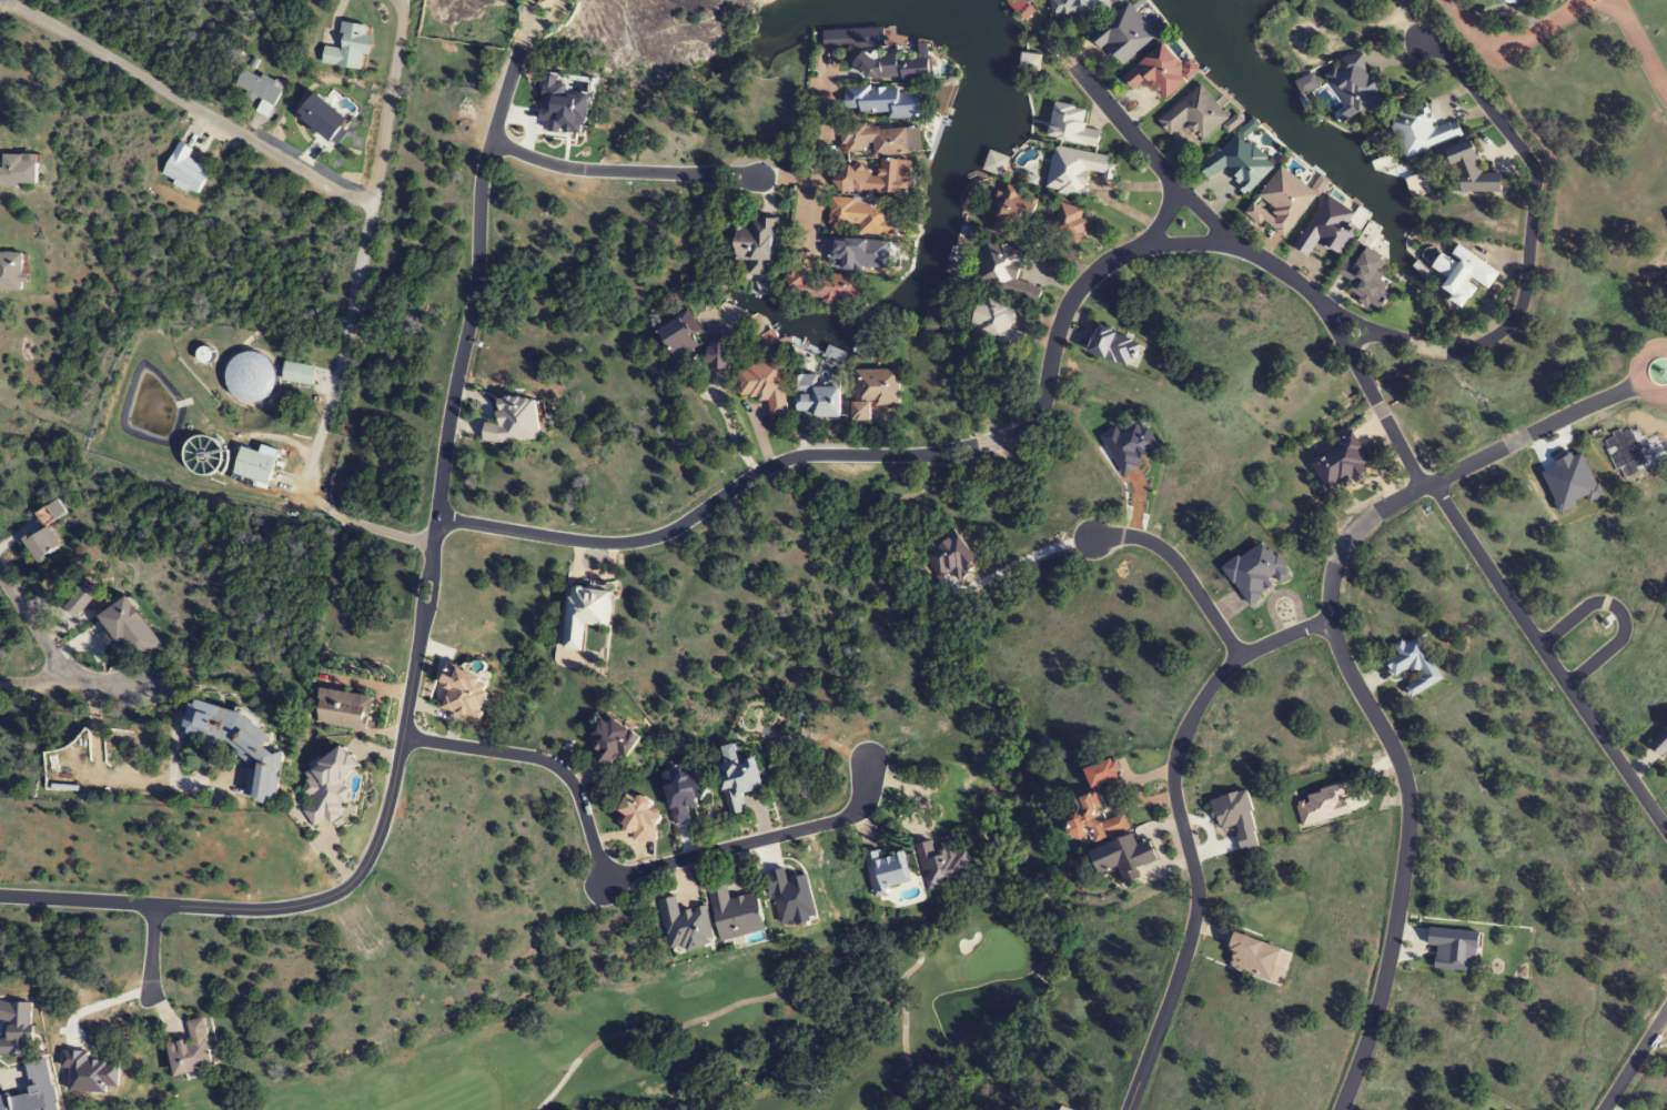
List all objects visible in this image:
building: (1504, 3)
road: (400, 7)
building: (1074, 10)
building: (1019, 16)
building: (1121, 40)
road: (1518, 41)
building: (855, 47)
road: (1639, 47)
building: (348, 48)
building: (1030, 69)
building: (1159, 78)
building: (1354, 84)
building: (259, 89)
building: (1309, 94)
building: (883, 101)
building: (1194, 119)
building: (1071, 125)
building: (1421, 131)
building: (871, 139)
road: (265, 150)
building: (1236, 163)
building: (184, 169)
building: (18, 170)
road: (625, 170)
building: (993, 170)
building: (1075, 170)
building: (1471, 172)
building: (871, 178)
road: (1170, 178)
building: (1281, 209)
building: (1013, 213)
building: (862, 218)
building: (1070, 221)
building: (1331, 229)
building: (755, 248)
road: (1527, 252)
building: (11, 271)
building: (1004, 272)
building: (1365, 274)
building: (1464, 276)
building: (820, 287)
building: (731, 313)
building: (998, 327)
building: (678, 339)
building: (1114, 346)
building: (718, 354)
building: (203, 356)
road: (1633, 371)
building: (297, 373)
road: (1360, 373)
building: (252, 376)
building: (765, 385)
building: (873, 391)
building: (817, 398)
building: (514, 421)
road: (890, 455)
building: (254, 465)
building: (1338, 466)
building: (42, 544)
road: (1182, 569)
building: (81, 599)
road: (1618, 610)
building: (585, 614)
road: (422, 617)
road: (34, 628)
road: (1547, 658)
building: (1414, 666)
road: (1345, 668)
road: (31, 684)
road: (104, 686)
building: (343, 709)
building: (613, 740)
building: (236, 743)
building: (1659, 743)
building: (1102, 773)
building: (738, 781)
building: (327, 787)
building: (684, 794)
building: (638, 818)
building: (1092, 824)
road: (1183, 829)
building: (1123, 856)
building: (943, 862)
building: (887, 871)
road: (626, 874)
building: (738, 915)
building: (686, 927)
road: (1415, 946)
road: (152, 948)
park: (729, 1028)
building: (191, 1051)
road: (1633, 1059)
road: (1608, 1108)

